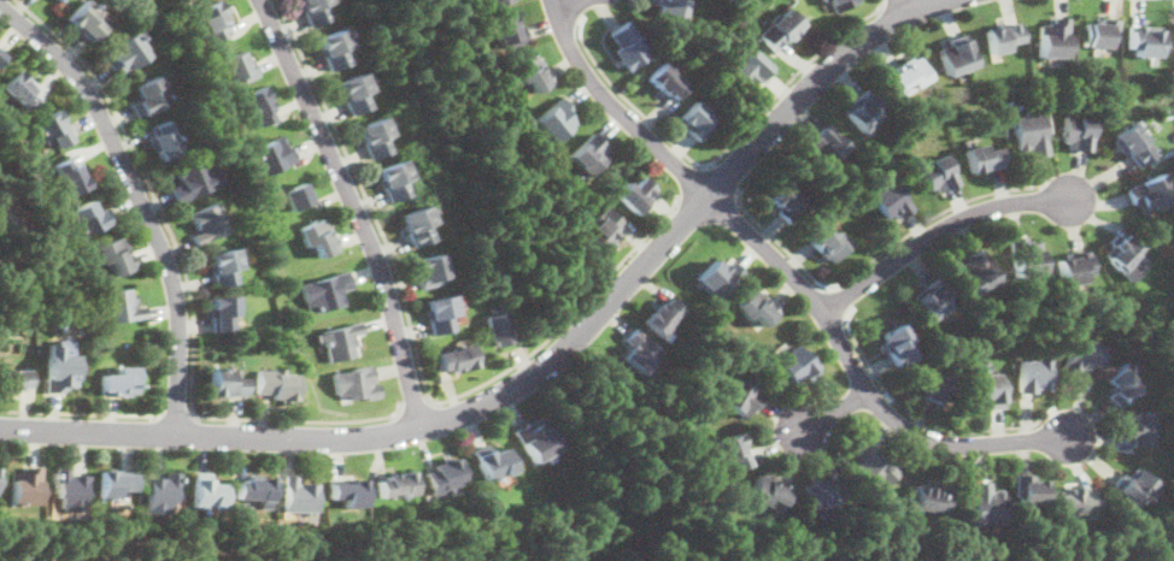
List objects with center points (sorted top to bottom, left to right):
building: (59, 0)
building: (824, 0)
building: (493, 1)
road: (557, 1)
building: (840, 4)
road: (904, 4)
building: (671, 6)
road: (576, 10)
building: (311, 11)
building: (84, 19)
building: (213, 20)
building: (781, 29)
building: (509, 31)
building: (1099, 33)
building: (1002, 36)
building: (1053, 37)
building: (1143, 40)
building: (204, 41)
building: (628, 46)
building: (330, 48)
building: (124, 53)
building: (0, 55)
building: (956, 55)
building: (237, 66)
building: (752, 69)
building: (532, 72)
building: (906, 72)
building: (665, 81)
building: (18, 89)
building: (351, 93)
building: (147, 96)
building: (258, 105)
building: (863, 110)
building: (554, 119)
building: (697, 120)
building: (52, 129)
building: (1029, 132)
building: (1078, 132)
building: (371, 136)
building: (163, 140)
building: (1133, 142)
building: (827, 144)
building: (589, 153)
road: (720, 154)
building: (271, 155)
building: (984, 158)
building: (938, 173)
building: (70, 177)
road: (722, 178)
building: (391, 179)
road: (687, 179)
building: (193, 181)
building: (1149, 193)
building: (633, 194)
building: (295, 195)
road: (140, 196)
building: (888, 200)
building: (786, 202)
road: (356, 207)
building: (88, 217)
building: (206, 222)
building: (415, 224)
building: (603, 230)
road: (935, 230)
building: (317, 236)
building: (827, 242)
building: (115, 255)
road: (874, 255)
building: (1026, 256)
building: (1127, 256)
building: (222, 266)
building: (1073, 268)
building: (429, 271)
building: (976, 271)
road: (786, 272)
building: (720, 277)
road: (187, 288)
building: (325, 290)
road: (841, 296)
building: (933, 299)
building: (121, 306)
building: (756, 307)
building: (222, 311)
building: (438, 313)
building: (663, 315)
building: (498, 327)
building: (339, 339)
building: (897, 344)
road: (415, 350)
building: (640, 350)
building: (1084, 354)
building: (456, 358)
building: (796, 364)
road: (535, 368)
building: (60, 370)
building: (1034, 373)
building: (12, 379)
building: (118, 380)
building: (224, 383)
building: (275, 383)
building: (356, 383)
building: (1122, 384)
building: (934, 385)
building: (987, 388)
building: (740, 396)
building: (646, 400)
road: (412, 402)
road: (175, 409)
road: (828, 411)
road: (81, 412)
road: (909, 412)
building: (1140, 427)
building: (535, 439)
building: (730, 451)
building: (492, 461)
building: (873, 466)
building: (445, 476)
building: (115, 483)
building: (397, 484)
building: (25, 485)
building: (1135, 486)
building: (71, 489)
building: (254, 489)
building: (1029, 489)
building: (769, 490)
building: (206, 491)
building: (160, 492)
building: (348, 492)
building: (823, 494)
building: (298, 495)
building: (932, 498)
building: (1074, 500)
building: (986, 504)
building: (938, 537)
building: (92, 560)

